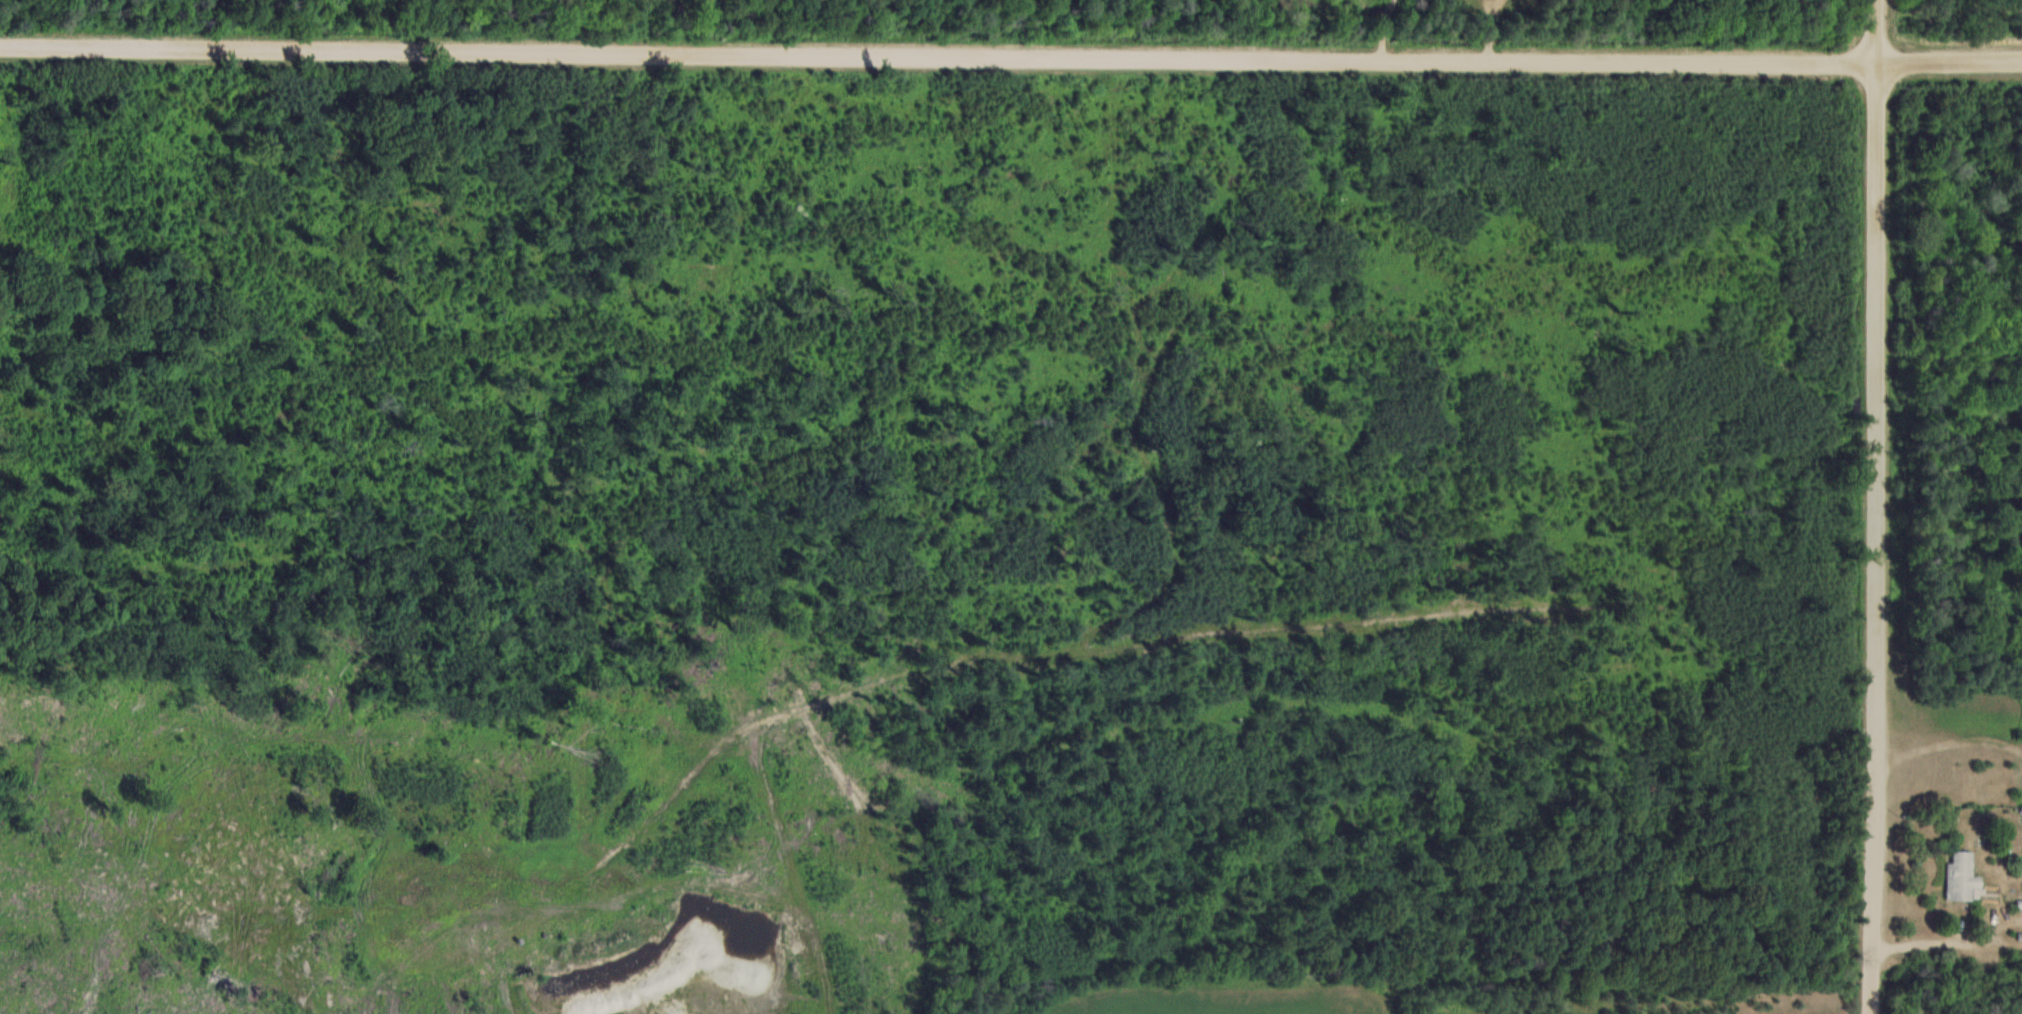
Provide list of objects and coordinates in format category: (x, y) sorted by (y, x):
road: (1011, 50)
road: (1875, 506)
building: (1961, 877)

